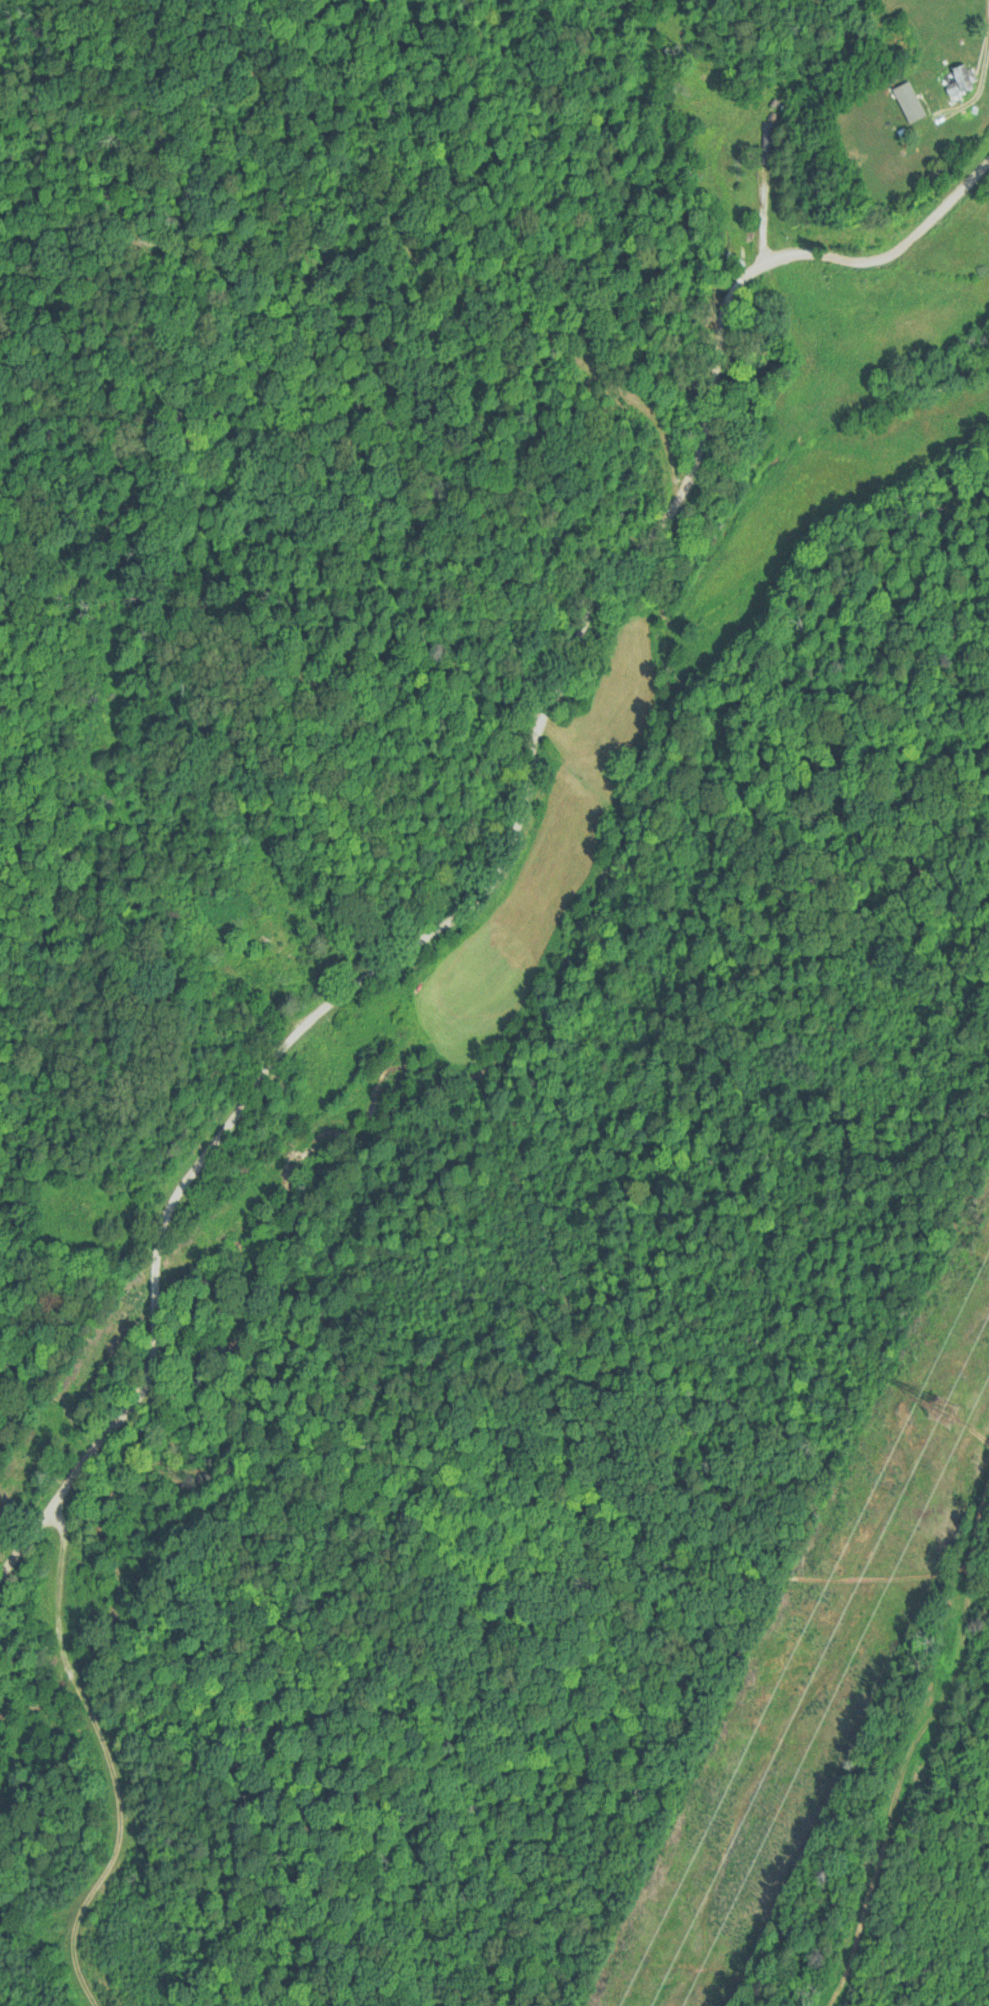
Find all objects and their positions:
building: (957, 81)
building: (764, 144)
road: (583, 504)
road: (511, 846)
road: (308, 963)
road: (159, 1268)
power tower: (945, 1407)

